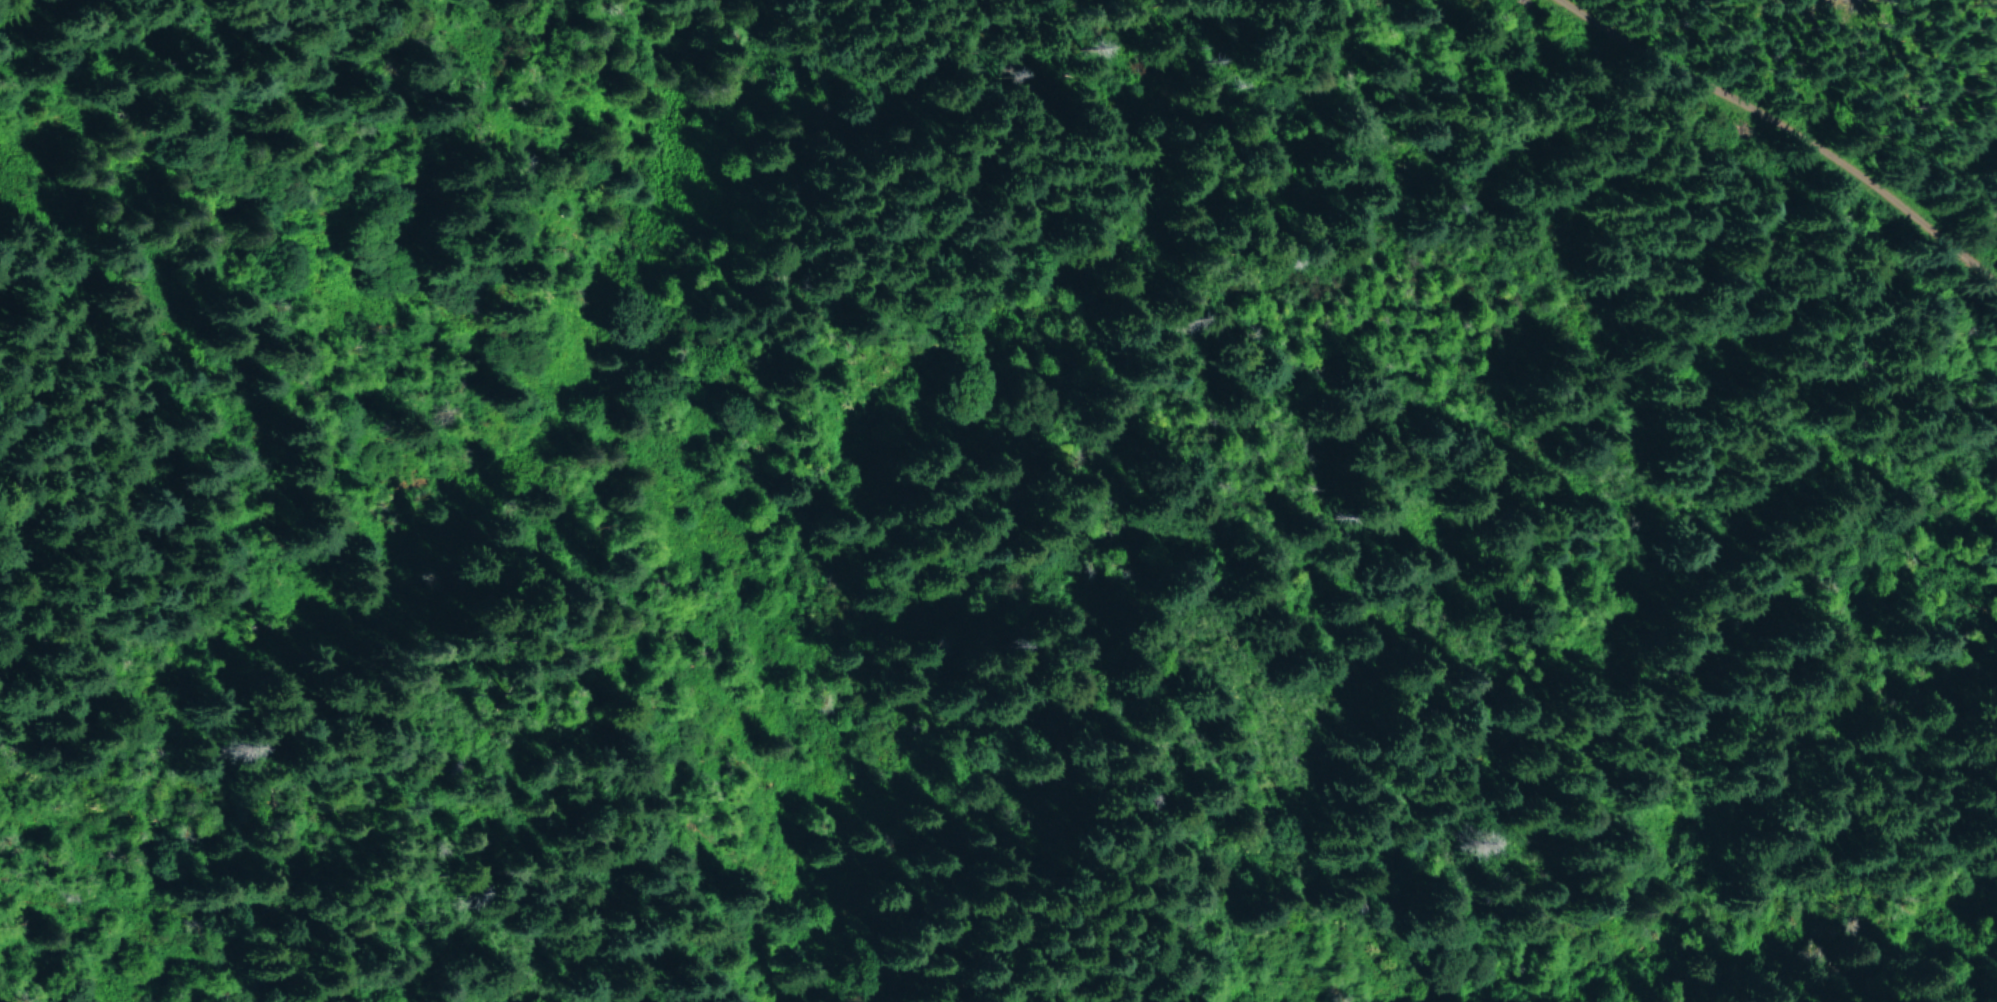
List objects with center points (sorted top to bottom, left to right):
road: (1869, 80)

